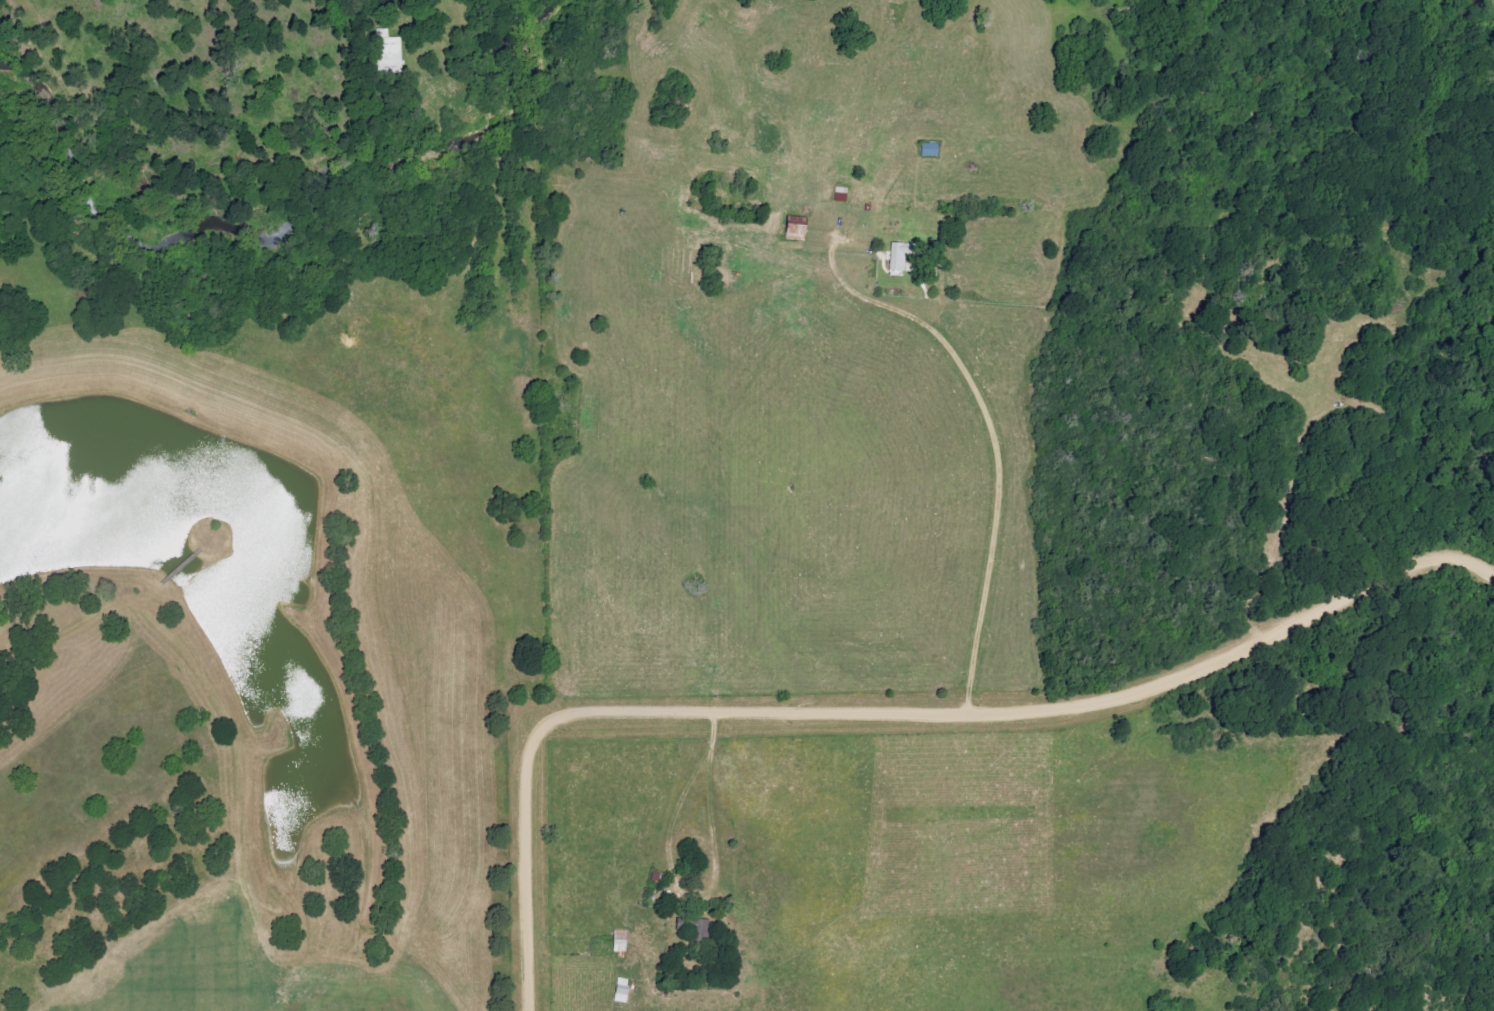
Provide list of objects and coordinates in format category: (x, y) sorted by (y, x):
building: (799, 229)
building: (899, 257)
road: (988, 439)
road: (890, 711)
road: (711, 892)
building: (703, 930)
building: (622, 941)

